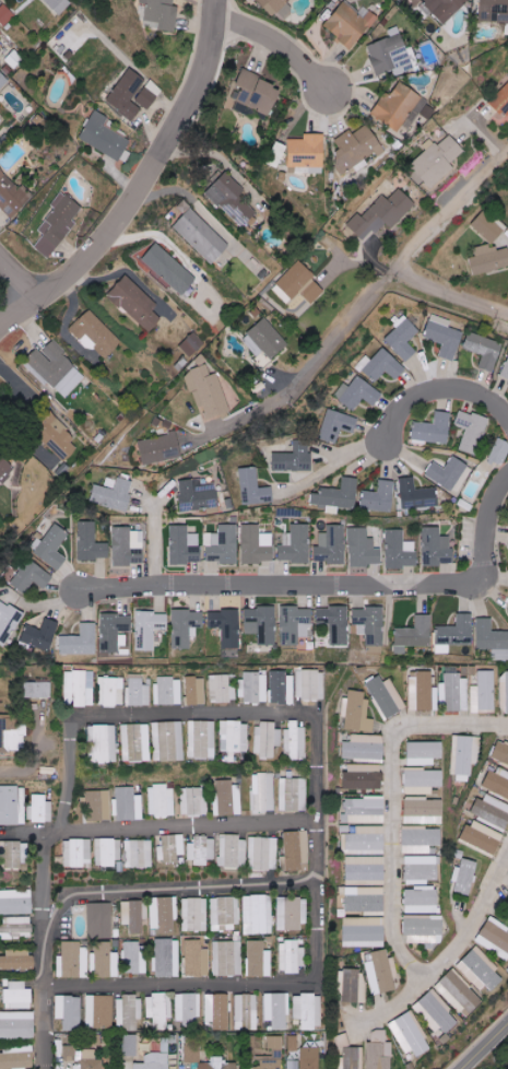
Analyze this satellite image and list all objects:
building: (59, 4)
building: (277, 7)
building: (446, 8)
building: (494, 10)
building: (162, 13)
building: (5, 14)
building: (350, 24)
road: (276, 42)
building: (390, 54)
building: (14, 59)
building: (2, 80)
building: (258, 92)
building: (127, 94)
building: (149, 94)
building: (501, 101)
building: (403, 107)
building: (1, 120)
building: (104, 136)
building: (356, 148)
building: (308, 152)
road: (220, 156)
building: (275, 158)
building: (437, 160)
road: (141, 185)
building: (12, 196)
building: (233, 199)
building: (381, 214)
building: (57, 224)
building: (488, 226)
building: (199, 234)
building: (488, 259)
road: (398, 268)
building: (169, 269)
building: (259, 269)
road: (20, 279)
building: (298, 284)
road: (452, 289)
building: (137, 303)
building: (95, 333)
building: (444, 336)
building: (403, 339)
building: (264, 340)
building: (192, 344)
building: (484, 350)
building: (383, 365)
building: (56, 369)
building: (505, 371)
road: (435, 385)
building: (208, 391)
building: (358, 393)
road: (251, 411)
building: (339, 425)
building: (434, 428)
building: (472, 431)
building: (62, 444)
building: (160, 448)
building: (497, 454)
building: (295, 458)
building: (5, 469)
road: (331, 471)
building: (450, 474)
building: (255, 489)
building: (417, 494)
building: (113, 495)
building: (339, 495)
building: (199, 496)
building: (380, 497)
building: (91, 543)
building: (223, 544)
building: (256, 544)
building: (185, 545)
building: (296, 545)
building: (331, 545)
building: (128, 547)
building: (436, 547)
building: (52, 548)
building: (363, 548)
building: (400, 550)
building: (33, 577)
road: (330, 578)
road: (494, 580)
building: (8, 621)
building: (334, 623)
building: (261, 624)
building: (294, 624)
building: (369, 624)
building: (186, 626)
building: (227, 626)
building: (149, 629)
building: (114, 632)
building: (454, 633)
building: (414, 634)
building: (40, 635)
building: (492, 639)
building: (80, 641)
building: (310, 684)
building: (255, 686)
building: (82, 688)
building: (282, 688)
building: (222, 689)
building: (42, 690)
building: (111, 691)
building: (168, 691)
building: (196, 691)
building: (437, 691)
building: (485, 691)
building: (137, 692)
building: (505, 695)
building: (387, 696)
building: (356, 712)
road: (320, 732)
building: (11, 737)
building: (233, 738)
building: (201, 739)
building: (265, 739)
building: (295, 740)
building: (167, 741)
building: (133, 742)
building: (101, 744)
building: (364, 747)
building: (501, 752)
building: (424, 753)
building: (466, 754)
road: (33, 759)
building: (363, 776)
building: (423, 782)
building: (497, 783)
building: (262, 791)
building: (292, 794)
building: (228, 798)
building: (161, 800)
building: (193, 801)
road: (390, 803)
building: (127, 804)
building: (12, 806)
building: (97, 806)
building: (42, 809)
building: (363, 810)
building: (493, 810)
building: (424, 811)
road: (190, 829)
building: (483, 837)
building: (365, 839)
building: (421, 839)
building: (172, 848)
building: (202, 849)
building: (109, 851)
building: (233, 851)
building: (296, 851)
building: (79, 853)
building: (263, 853)
building: (15, 854)
building: (139, 854)
building: (365, 868)
building: (421, 869)
building: (464, 877)
road: (185, 893)
building: (422, 900)
building: (15, 902)
building: (224, 913)
building: (193, 914)
building: (291, 914)
building: (134, 915)
building: (163, 915)
building: (257, 915)
building: (99, 920)
building: (20, 926)
building: (424, 929)
building: (365, 931)
building: (494, 937)
road: (448, 953)
building: (134, 958)
building: (167, 958)
building: (227, 958)
building: (291, 958)
building: (196, 959)
building: (16, 960)
building: (259, 960)
building: (72, 961)
building: (105, 961)
building: (483, 970)
building: (382, 973)
building: (353, 986)
building: (459, 991)
building: (17, 995)
building: (188, 1009)
building: (217, 1010)
building: (275, 1010)
building: (307, 1010)
building: (68, 1011)
building: (98, 1011)
building: (128, 1011)
building: (158, 1011)
building: (439, 1011)
building: (246, 1012)
building: (17, 1025)
road: (47, 1030)
building: (409, 1034)
building: (293, 1043)
building: (129, 1045)
road: (484, 1047)
building: (379, 1050)
building: (69, 1052)
building: (192, 1052)
building: (272, 1054)
building: (350, 1054)
building: (16, 1057)
building: (309, 1058)
building: (88, 1060)
building: (154, 1061)
building: (293, 1064)
building: (217, 1065)

